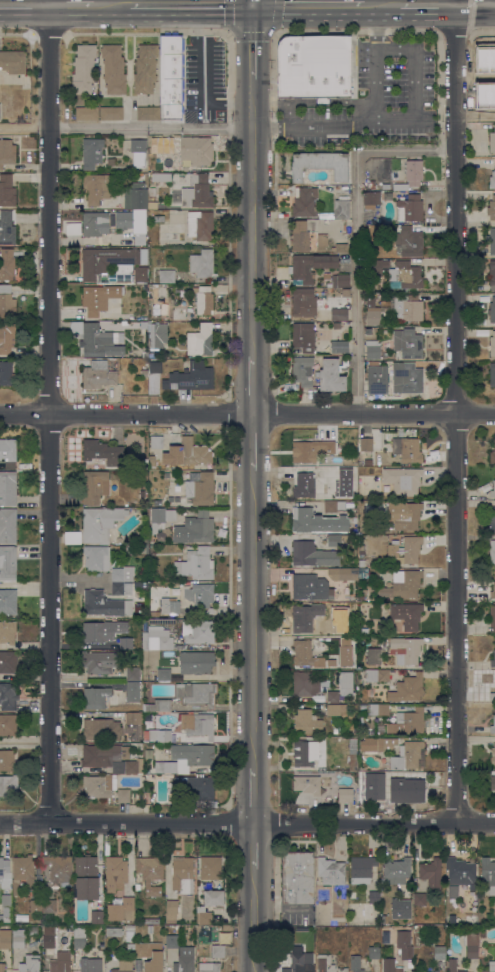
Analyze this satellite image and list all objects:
road: (147, 2)
road: (253, 2)
road: (473, 2)
road: (25, 4)
road: (72, 4)
road: (112, 4)
road: (191, 4)
traffic signals: (253, 4)
road: (308, 4)
road: (381, 4)
road: (435, 4)
road: (483, 5)
road: (253, 41)
building: (13, 61)
building: (488, 62)
building: (314, 66)
building: (113, 68)
building: (84, 69)
building: (145, 69)
building: (171, 75)
road: (417, 87)
building: (354, 102)
building: (86, 113)
building: (111, 113)
building: (148, 113)
road: (477, 117)
road: (375, 125)
road: (126, 127)
building: (158, 139)
building: (492, 141)
building: (168, 145)
building: (194, 149)
building: (7, 152)
building: (92, 152)
building: (138, 152)
building: (319, 164)
building: (411, 174)
building: (161, 177)
building: (492, 180)
building: (385, 186)
building: (96, 187)
building: (7, 191)
building: (197, 192)
building: (136, 196)
building: (372, 198)
building: (305, 202)
building: (342, 206)
building: (409, 208)
building: (491, 208)
road: (253, 216)
building: (326, 216)
building: (159, 218)
building: (105, 222)
building: (200, 224)
building: (7, 228)
building: (72, 228)
road: (357, 231)
building: (306, 235)
building: (140, 239)
building: (409, 241)
building: (491, 241)
building: (340, 247)
building: (368, 249)
building: (143, 256)
building: (109, 263)
building: (202, 263)
building: (7, 264)
building: (376, 266)
building: (310, 267)
building: (140, 274)
building: (406, 275)
building: (492, 275)
building: (166, 276)
building: (326, 276)
building: (339, 280)
building: (328, 294)
building: (98, 297)
building: (159, 298)
building: (203, 299)
building: (7, 302)
building: (303, 302)
building: (323, 302)
building: (396, 310)
building: (492, 310)
building: (181, 314)
building: (339, 314)
building: (143, 324)
building: (366, 331)
building: (157, 334)
building: (304, 336)
building: (7, 337)
building: (97, 339)
building: (200, 340)
building: (371, 342)
building: (408, 343)
building: (492, 344)
building: (339, 346)
building: (373, 352)
building: (155, 367)
building: (302, 370)
building: (6, 373)
building: (144, 373)
building: (98, 375)
building: (492, 375)
building: (331, 376)
building: (190, 377)
building: (406, 377)
building: (377, 378)
road: (253, 385)
road: (55, 412)
road: (458, 413)
road: (247, 415)
building: (156, 442)
road: (253, 442)
building: (366, 444)
building: (310, 449)
building: (407, 449)
building: (8, 452)
building: (103, 452)
building: (191, 453)
building: (492, 455)
building: (152, 461)
building: (368, 462)
building: (334, 472)
building: (166, 474)
building: (403, 481)
building: (95, 486)
building: (308, 486)
building: (7, 488)
building: (200, 488)
building: (492, 490)
building: (170, 498)
building: (176, 499)
building: (157, 501)
building: (330, 507)
building: (408, 517)
building: (161, 518)
building: (492, 519)
building: (316, 521)
building: (100, 523)
building: (7, 525)
building: (195, 528)
building: (339, 539)
building: (130, 548)
building: (361, 550)
building: (404, 550)
building: (492, 552)
building: (313, 554)
building: (96, 558)
building: (8, 562)
building: (361, 563)
building: (196, 564)
building: (363, 572)
building: (343, 573)
building: (122, 574)
road: (79, 578)
building: (403, 584)
road: (27, 585)
building: (310, 587)
building: (121, 588)
building: (493, 591)
building: (200, 595)
building: (8, 601)
building: (105, 604)
building: (169, 606)
building: (406, 614)
road: (253, 618)
building: (305, 618)
building: (492, 618)
building: (161, 620)
building: (331, 625)
building: (97, 630)
building: (7, 631)
building: (198, 631)
building: (364, 631)
building: (159, 639)
building: (125, 642)
building: (136, 644)
building: (349, 647)
building: (406, 649)
building: (306, 654)
building: (374, 656)
building: (492, 660)
building: (8, 661)
building: (100, 661)
building: (196, 662)
building: (133, 673)
building: (164, 674)
building: (377, 674)
building: (346, 682)
building: (305, 684)
building: (407, 688)
building: (134, 691)
building: (197, 693)
building: (8, 695)
building: (332, 696)
building: (492, 696)
building: (96, 698)
building: (159, 705)
building: (335, 709)
building: (401, 717)
building: (134, 718)
building: (150, 721)
building: (306, 722)
building: (8, 724)
building: (493, 726)
building: (188, 727)
building: (101, 729)
building: (377, 744)
building: (305, 752)
building: (353, 754)
building: (493, 755)
building: (409, 756)
building: (110, 758)
building: (186, 758)
building: (8, 760)
building: (348, 776)
building: (307, 782)
building: (493, 783)
building: (349, 784)
building: (407, 784)
building: (9, 785)
building: (99, 785)
building: (194, 788)
building: (123, 795)
road: (253, 796)
building: (345, 796)
building: (372, 807)
road: (247, 825)
road: (253, 846)
building: (4, 867)
building: (210, 867)
building: (116, 869)
building: (362, 869)
building: (58, 870)
building: (331, 871)
building: (396, 871)
building: (461, 871)
building: (22, 872)
building: (150, 873)
building: (488, 873)
building: (182, 874)
building: (432, 875)
building: (86, 877)
building: (297, 877)
building: (453, 891)
building: (351, 895)
building: (374, 897)
building: (213, 898)
building: (420, 899)
building: (402, 902)
building: (35, 906)
building: (49, 906)
building: (6, 908)
building: (123, 910)
building: (171, 910)
building: (204, 915)
building: (97, 917)
building: (470, 917)
road: (253, 920)
building: (151, 921)
building: (149, 928)
building: (33, 930)
building: (114, 931)
building: (129, 932)
building: (48, 937)
building: (79, 937)
building: (385, 937)
building: (5, 938)
building: (18, 938)
building: (172, 941)
building: (404, 944)
building: (471, 945)
building: (129, 947)
building: (140, 950)
building: (217, 951)
building: (374, 952)
building: (439, 952)
building: (297, 953)
building: (63, 955)
building: (154, 958)
building: (355, 963)
building: (30, 964)
building: (184, 964)
building: (327, 964)
building: (91, 965)
building: (124, 965)
building: (390, 965)
building: (453, 965)
building: (59, 966)
building: (490, 966)
building: (2, 967)
building: (209, 967)
building: (424, 971)

